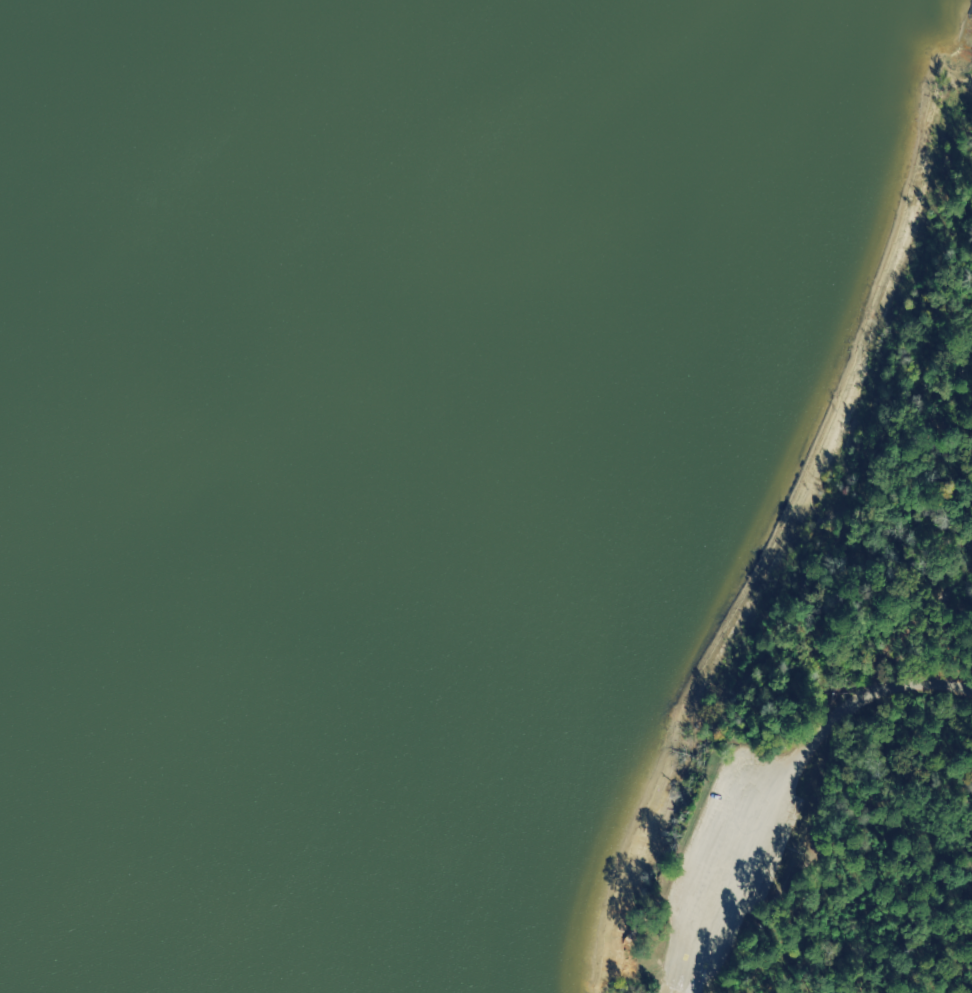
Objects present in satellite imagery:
road: (950, 688)
road: (779, 799)

